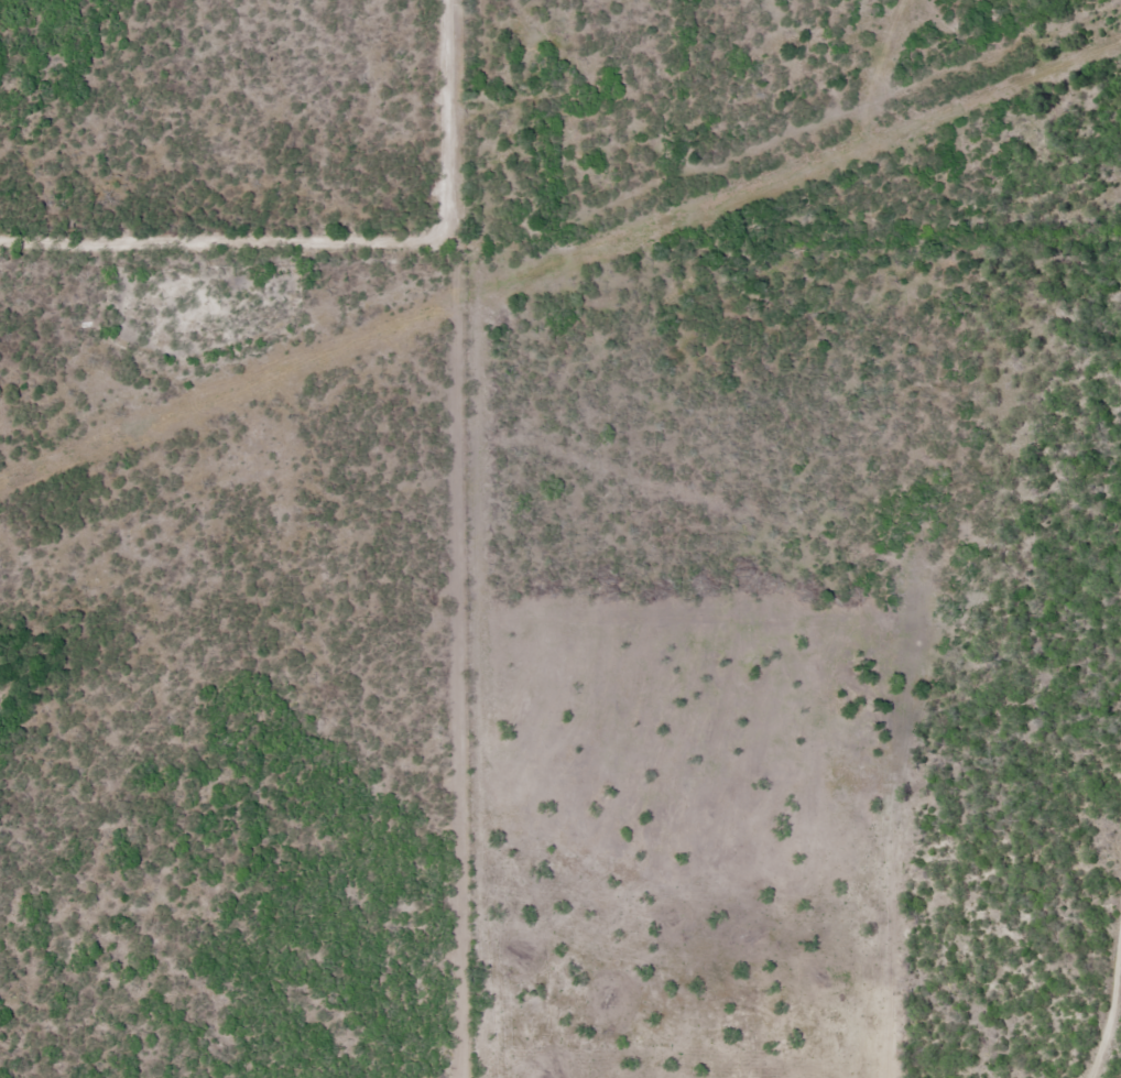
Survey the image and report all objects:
road: (1106, 1019)

